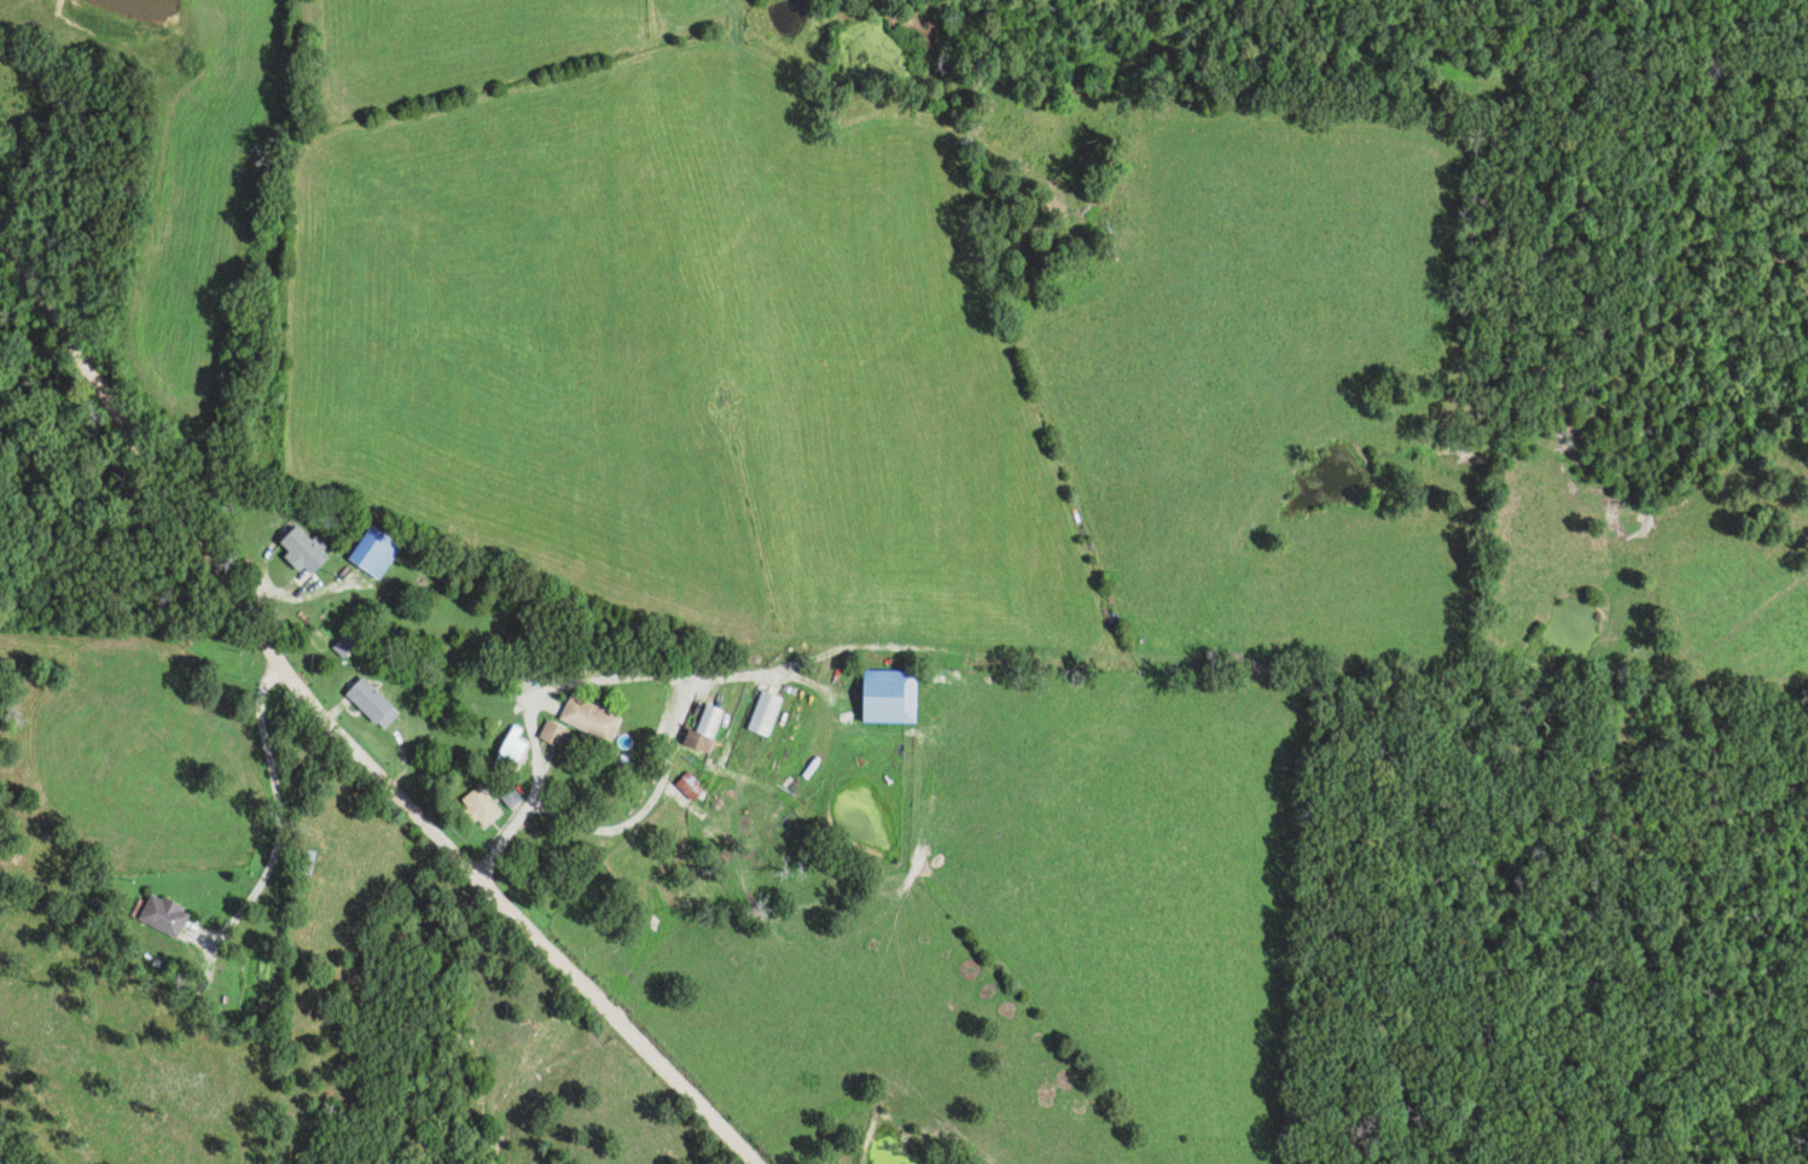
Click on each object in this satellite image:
building: (297, 549)
building: (882, 698)
building: (366, 704)
building: (761, 716)
building: (586, 720)
road: (338, 724)
building: (699, 732)
building: (550, 735)
building: (505, 753)
building: (476, 808)
road: (277, 815)
building: (302, 863)
building: (158, 918)

